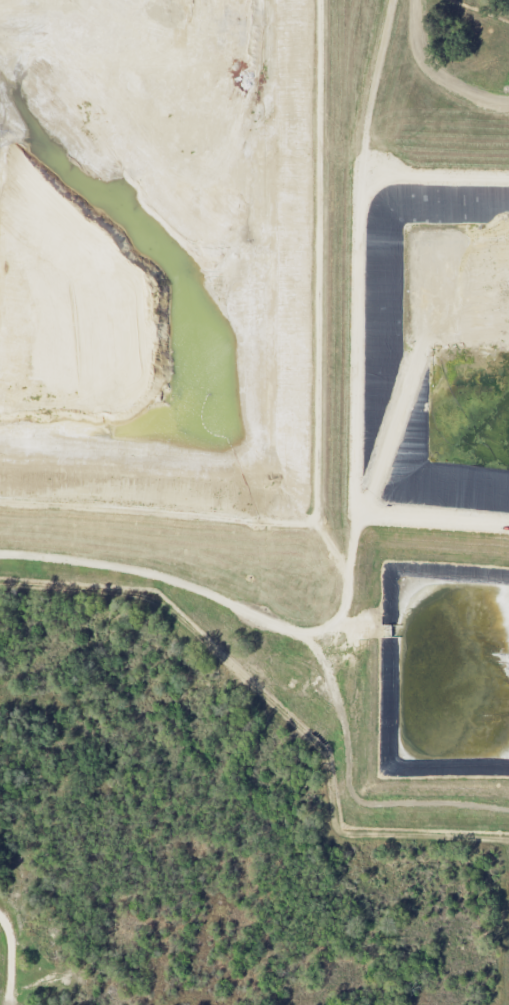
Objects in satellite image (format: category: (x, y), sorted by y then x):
road: (435, 74)

